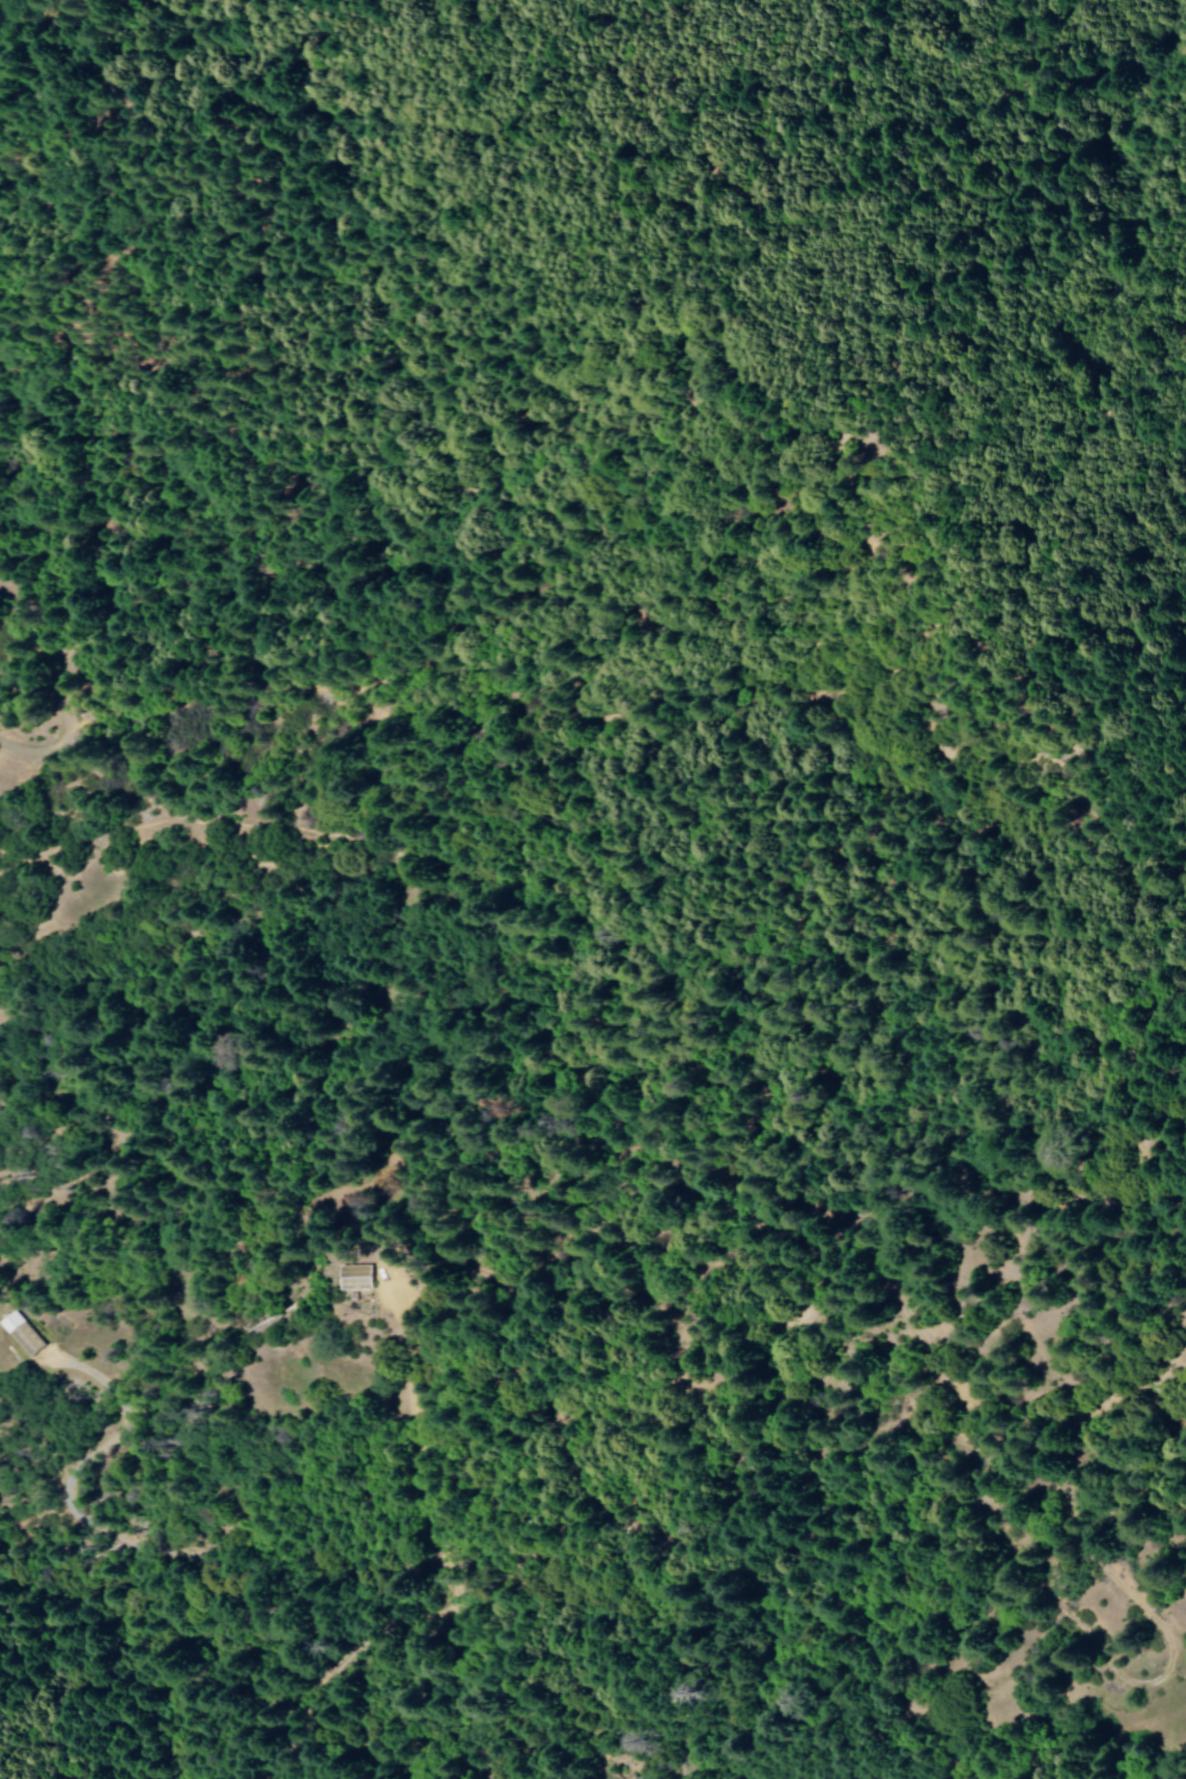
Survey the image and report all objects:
building: (20, 1334)

